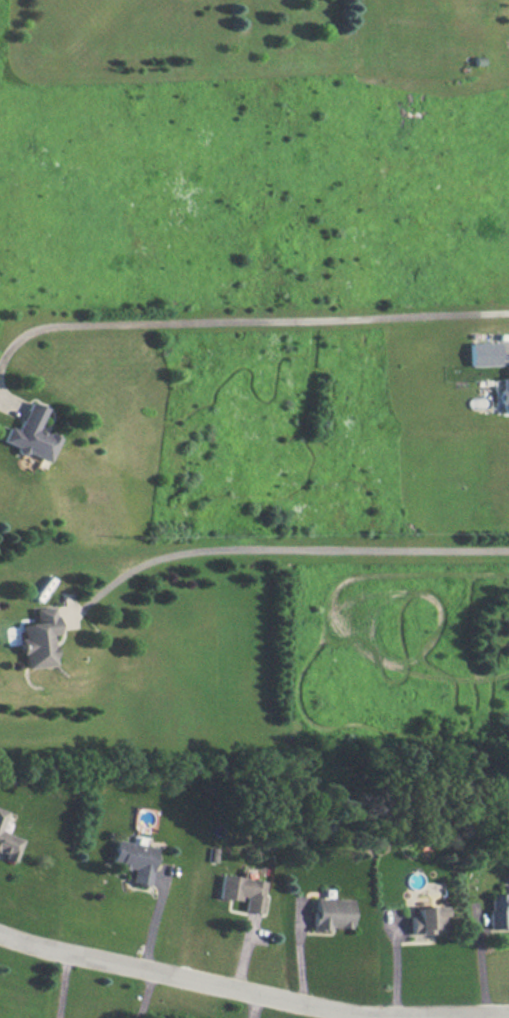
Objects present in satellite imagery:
road: (248, 321)
building: (483, 354)
building: (503, 395)
building: (30, 435)
road: (282, 548)
building: (37, 639)
building: (1, 814)
building: (8, 846)
building: (132, 860)
building: (241, 891)
building: (496, 909)
building: (331, 913)
road: (154, 917)
building: (425, 919)
road: (300, 955)
road: (478, 958)
road: (60, 986)
road: (252, 991)
road: (143, 995)

